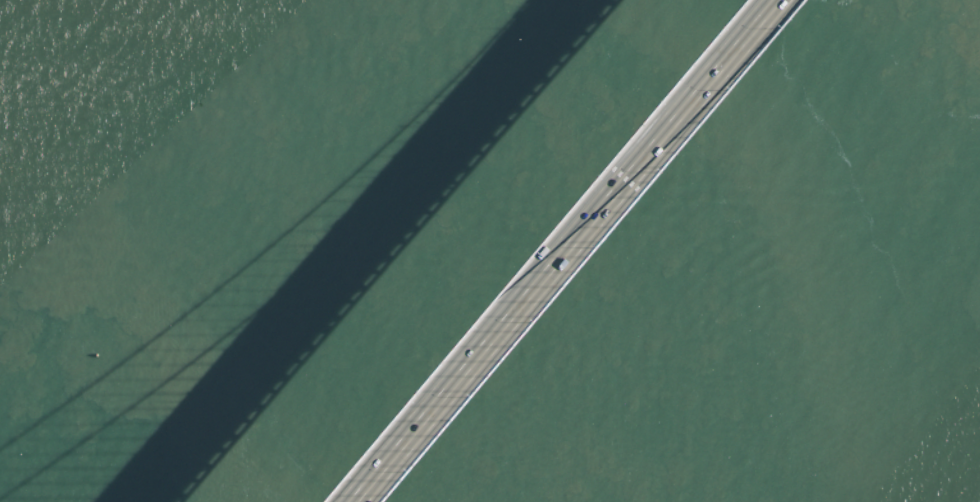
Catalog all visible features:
road: (551, 251)
road: (576, 251)

